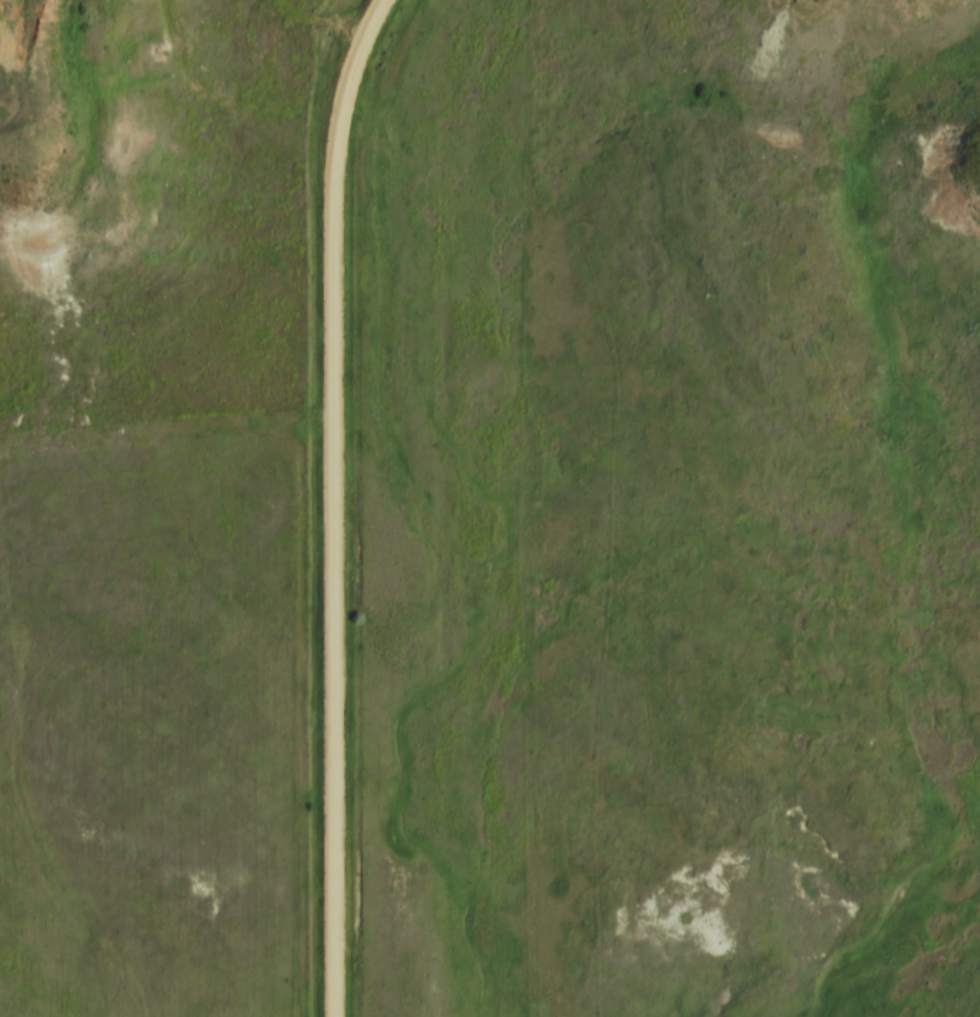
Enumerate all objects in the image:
quarry: (26, 32)
road: (254, 91)
road: (333, 504)

